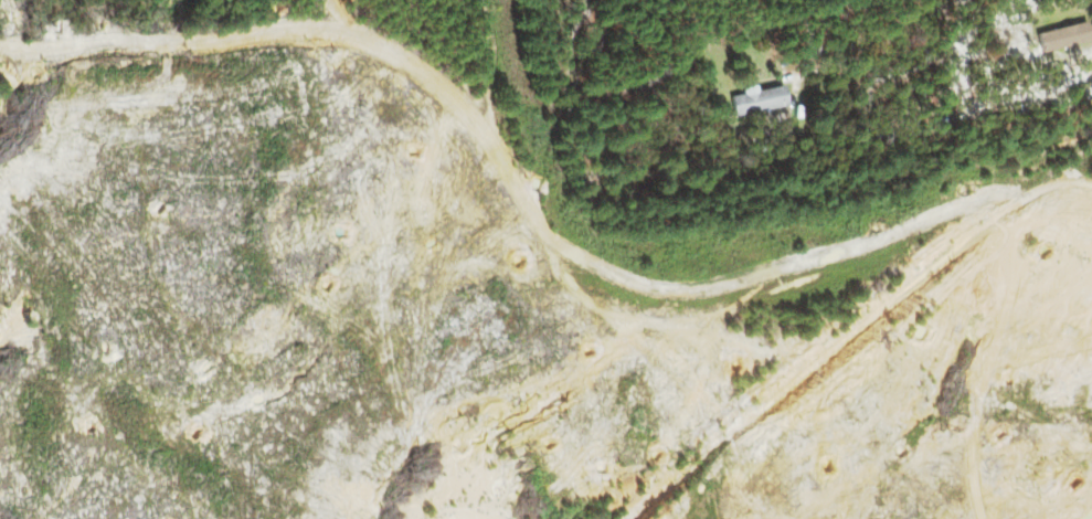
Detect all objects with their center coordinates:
building: (1060, 35)
building: (755, 98)

